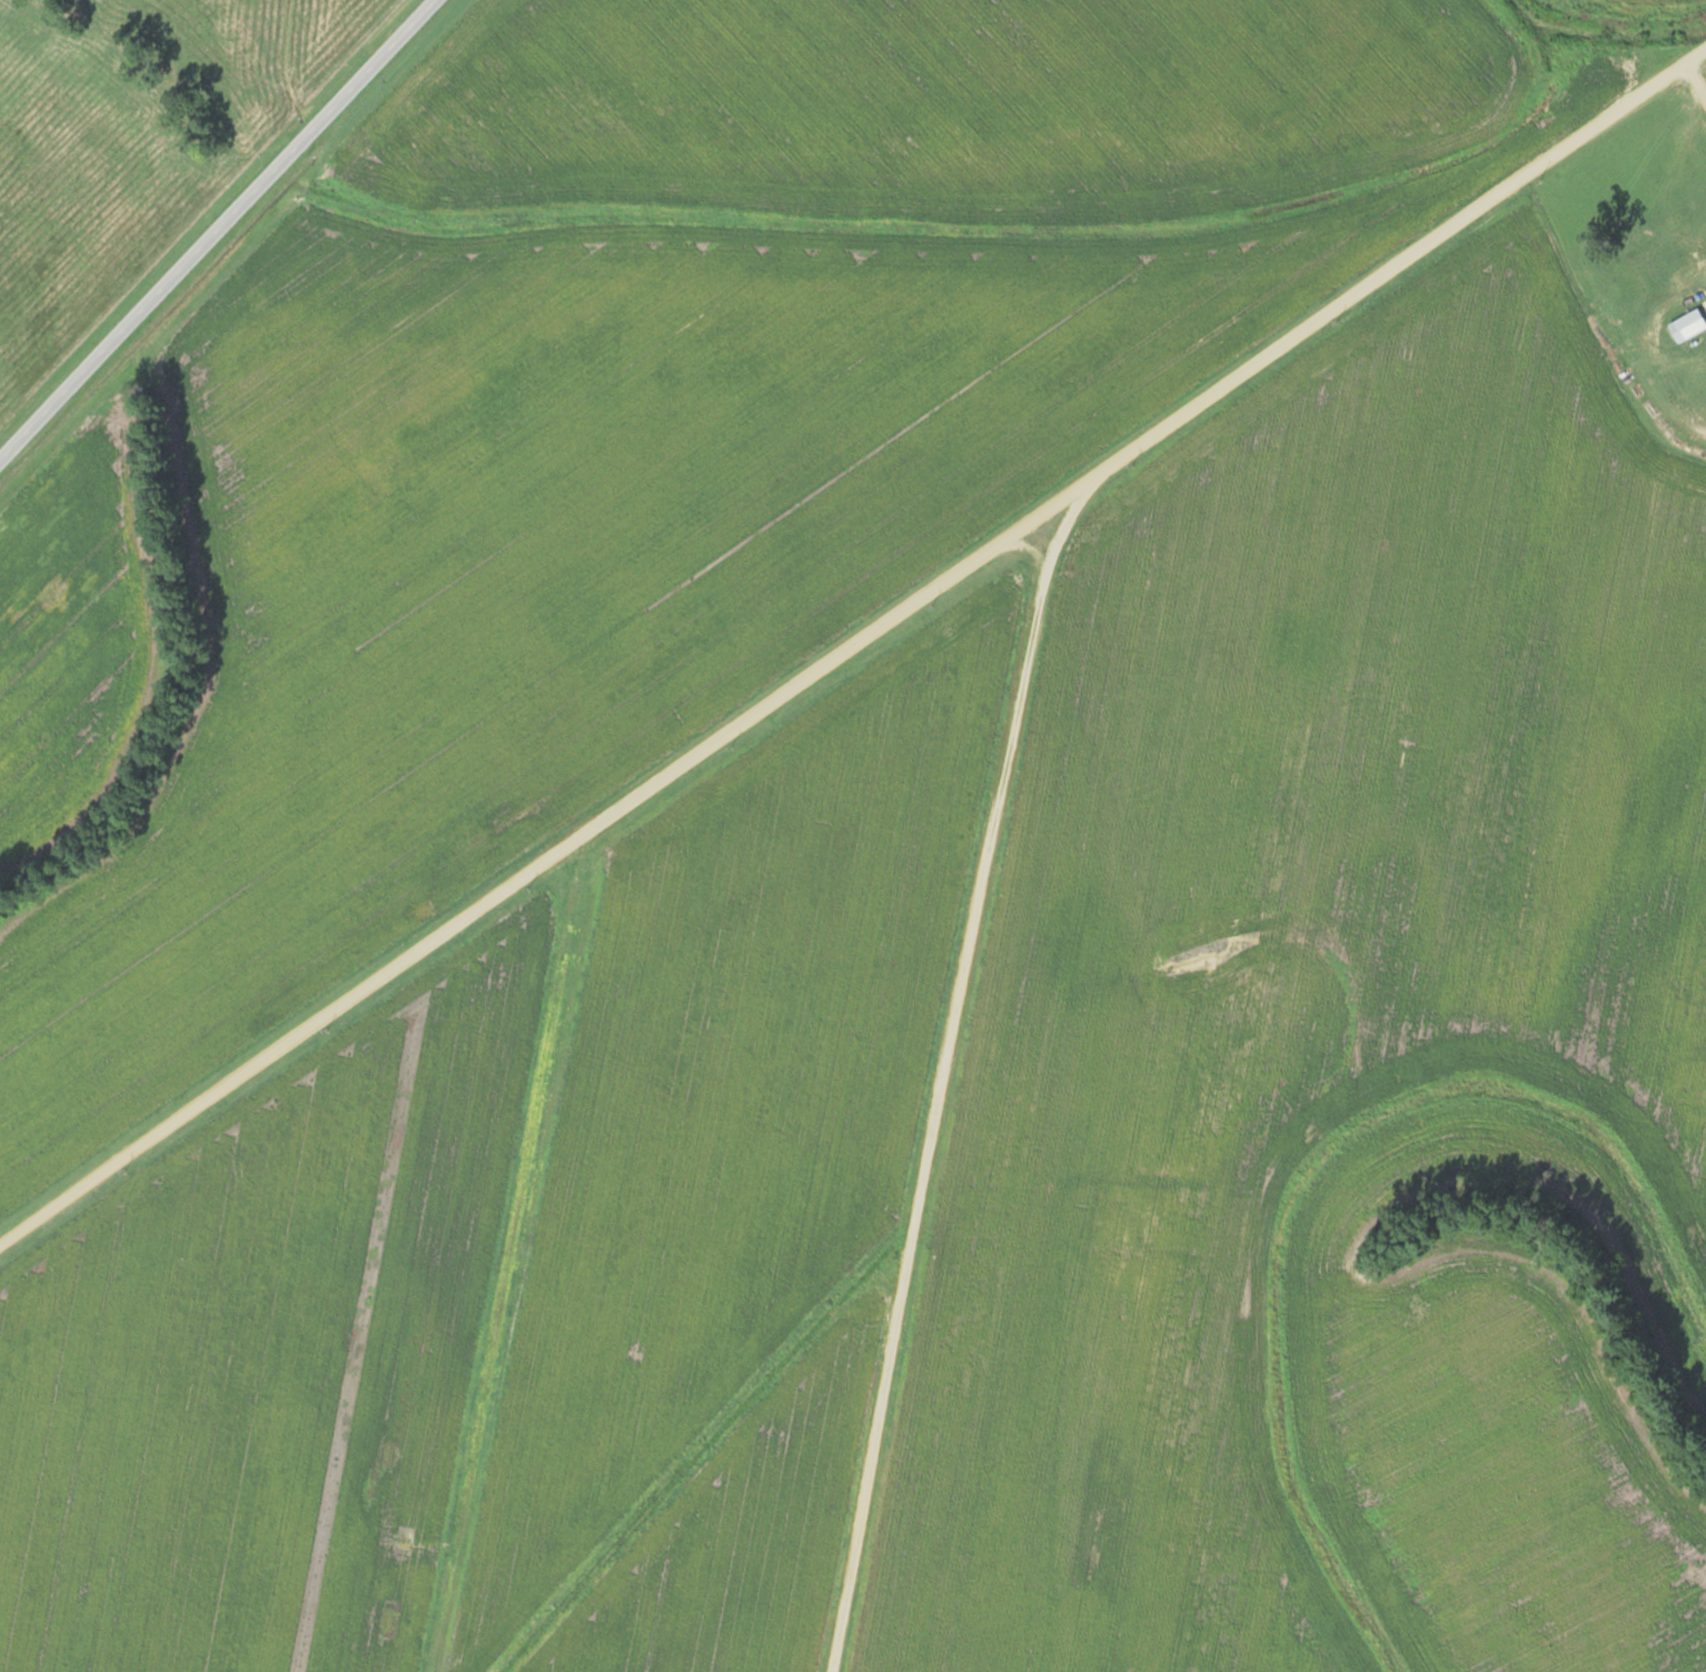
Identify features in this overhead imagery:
road: (1692, 89)
road: (215, 227)
building: (1705, 300)
building: (1686, 325)
road: (1002, 696)
road: (507, 916)

